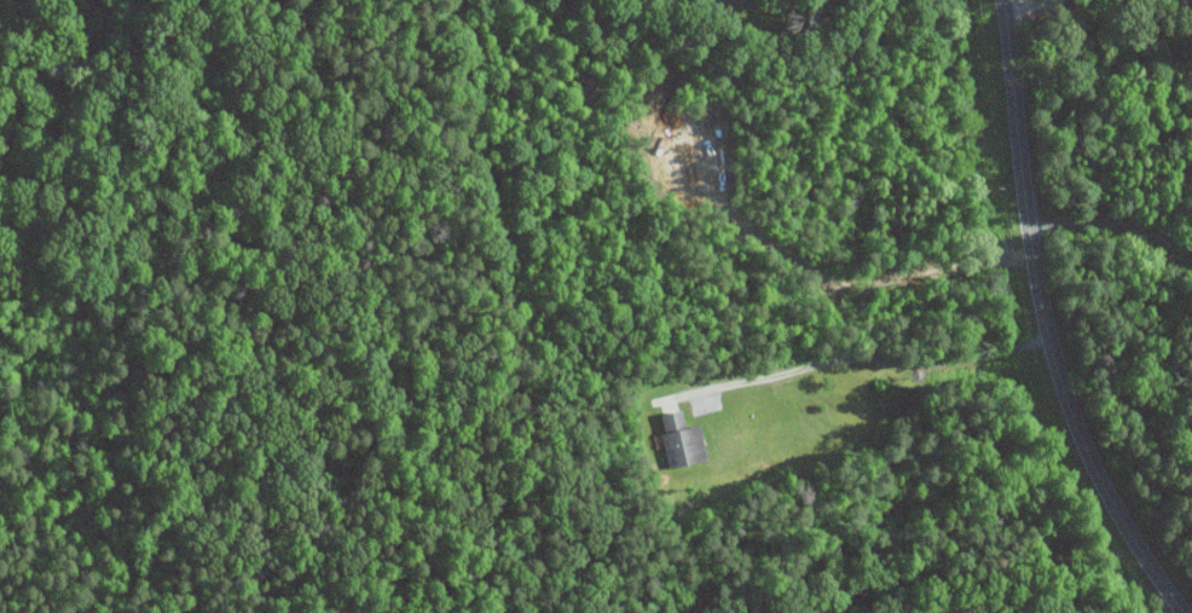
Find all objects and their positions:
road: (757, 0)
road: (1028, 10)
road: (1111, 227)
road: (870, 282)
road: (1043, 322)
road: (857, 359)
building: (684, 441)

